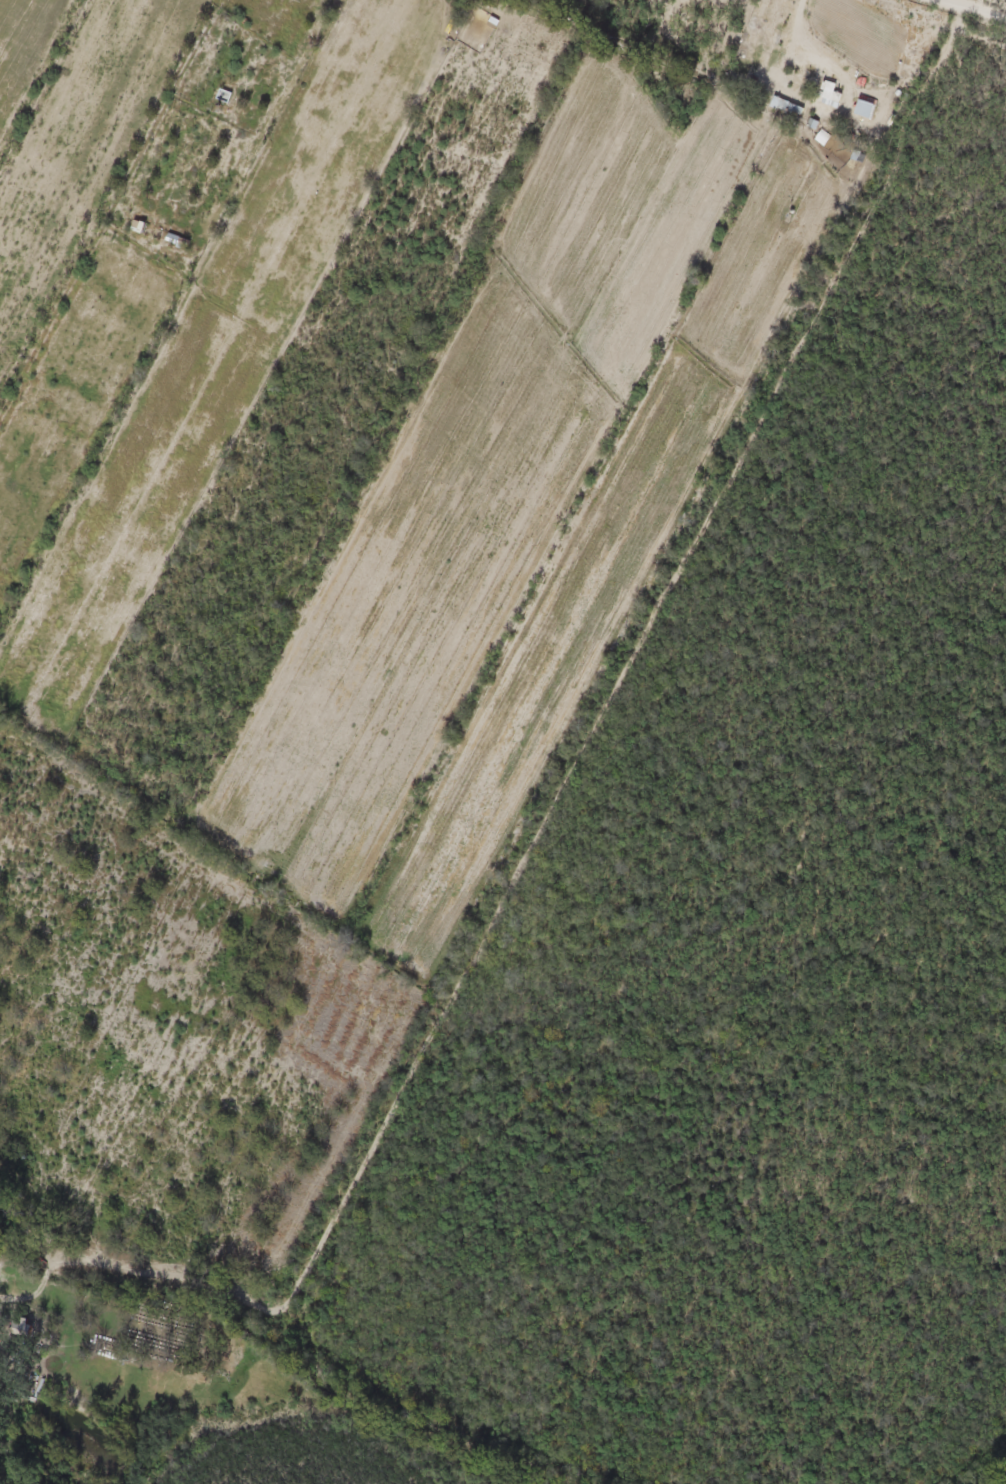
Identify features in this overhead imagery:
road: (976, 9)

